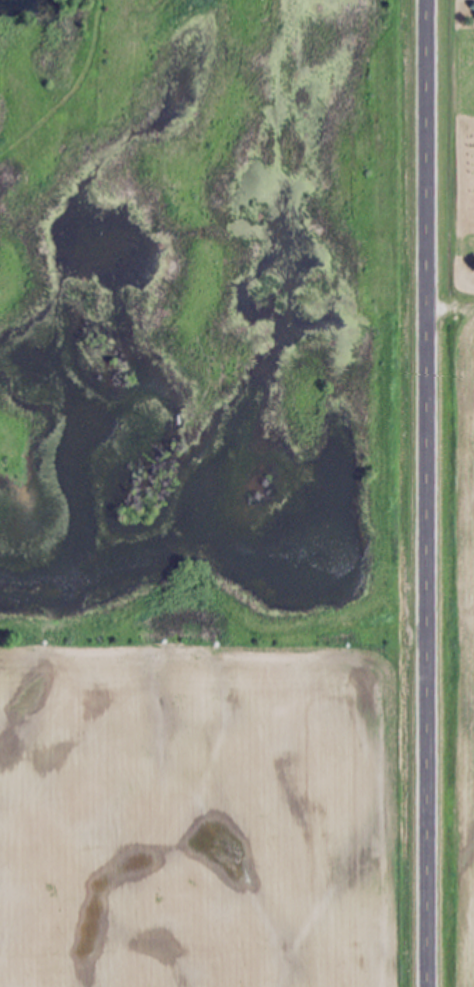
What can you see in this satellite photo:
road: (426, 493)

